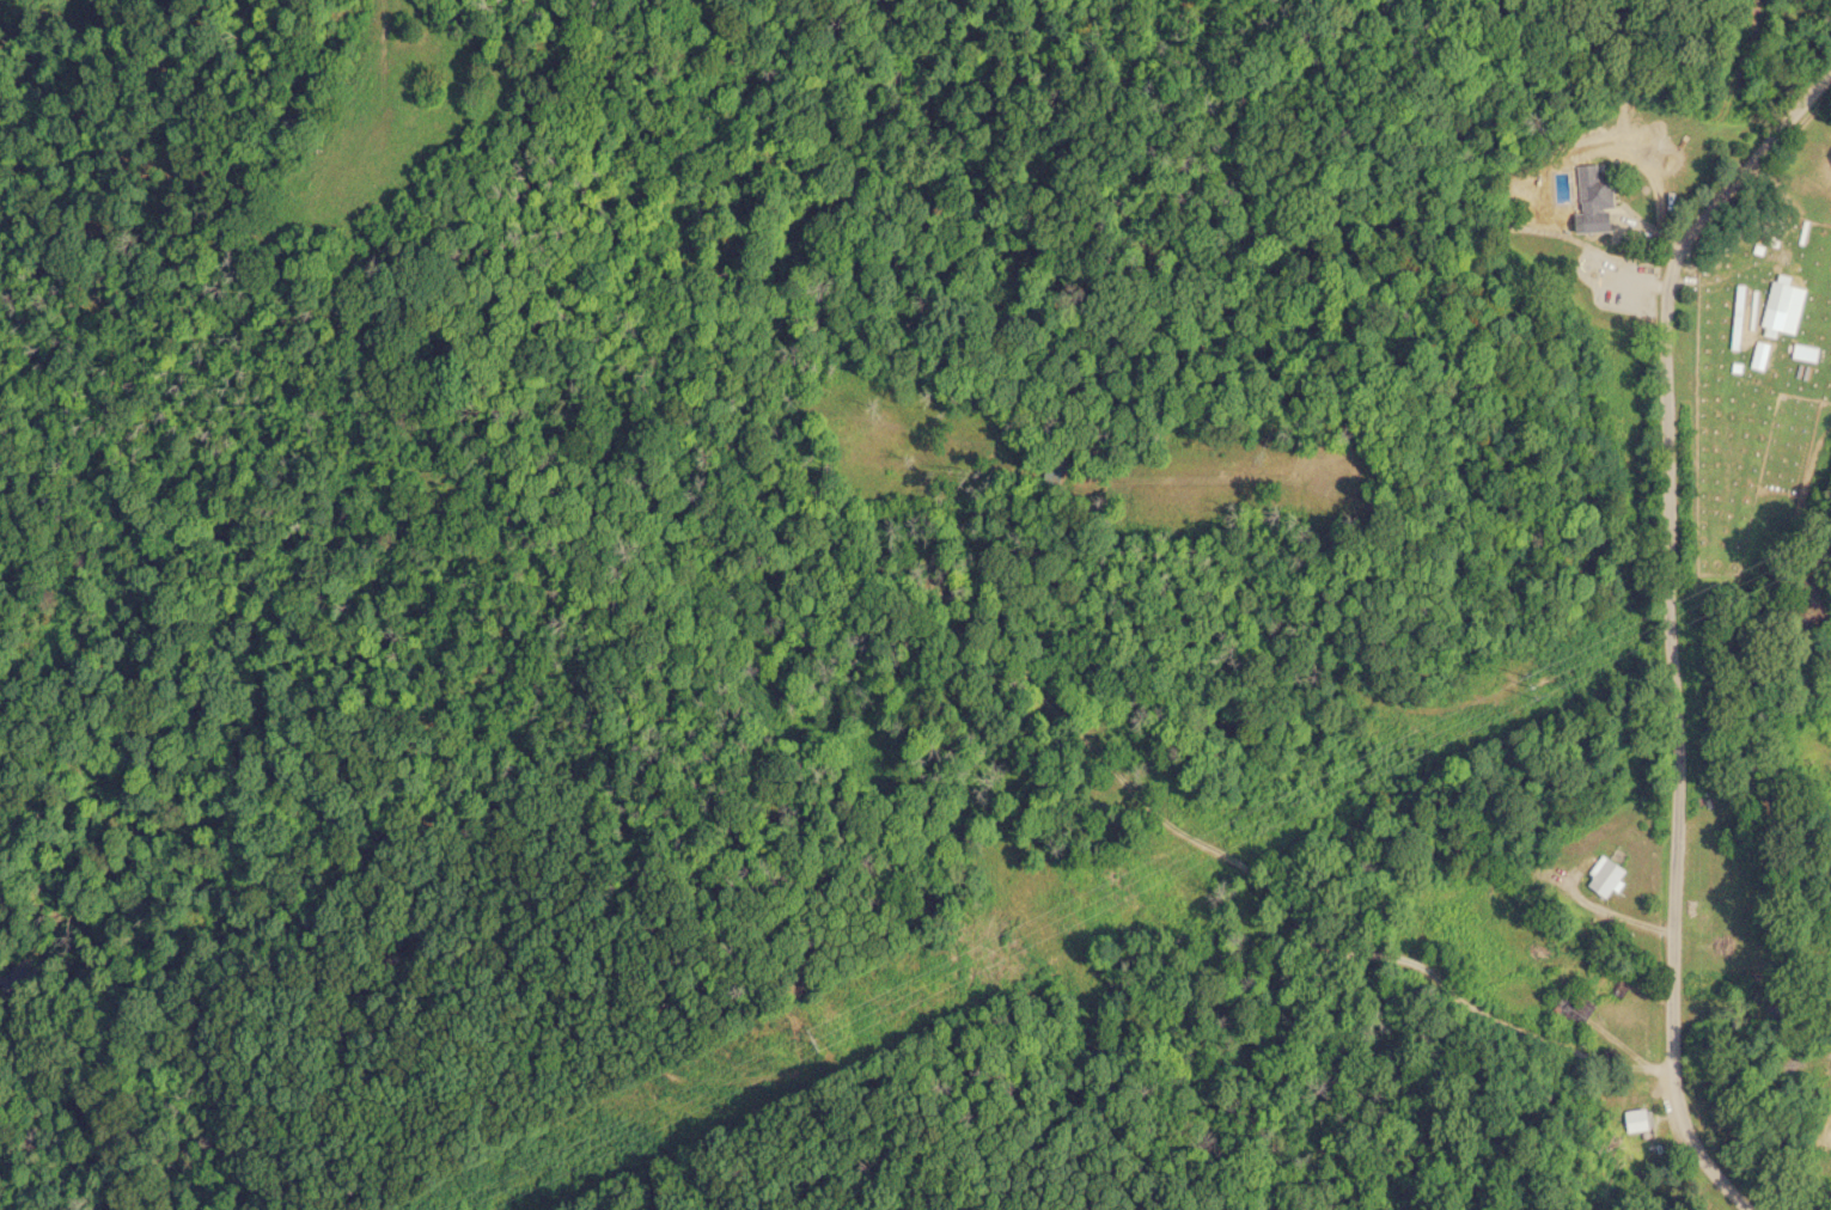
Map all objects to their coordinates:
building: (1589, 198)
building: (1774, 305)
building: (1801, 352)
road: (1671, 600)
power tower: (1532, 686)
building: (1599, 876)
building: (1567, 1006)
power tower: (816, 1040)
building: (1636, 1119)

